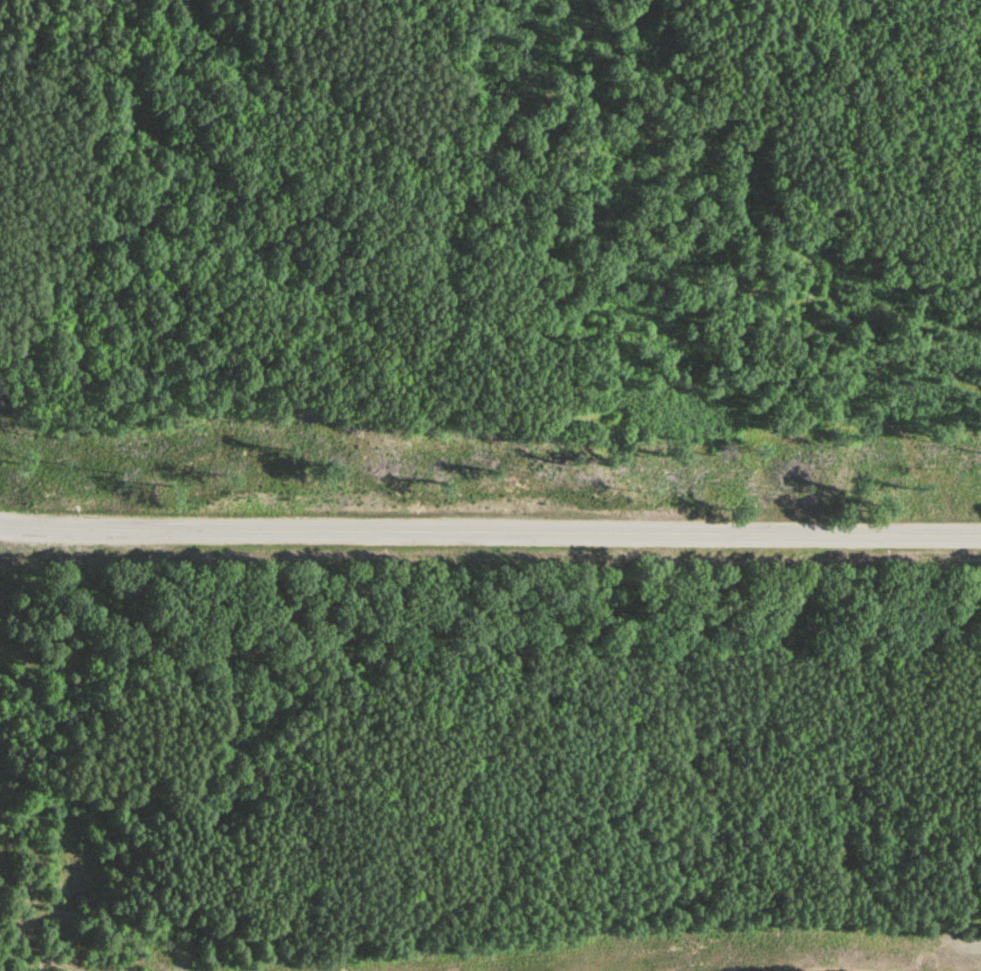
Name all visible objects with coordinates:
road: (490, 531)
road: (31, 951)

